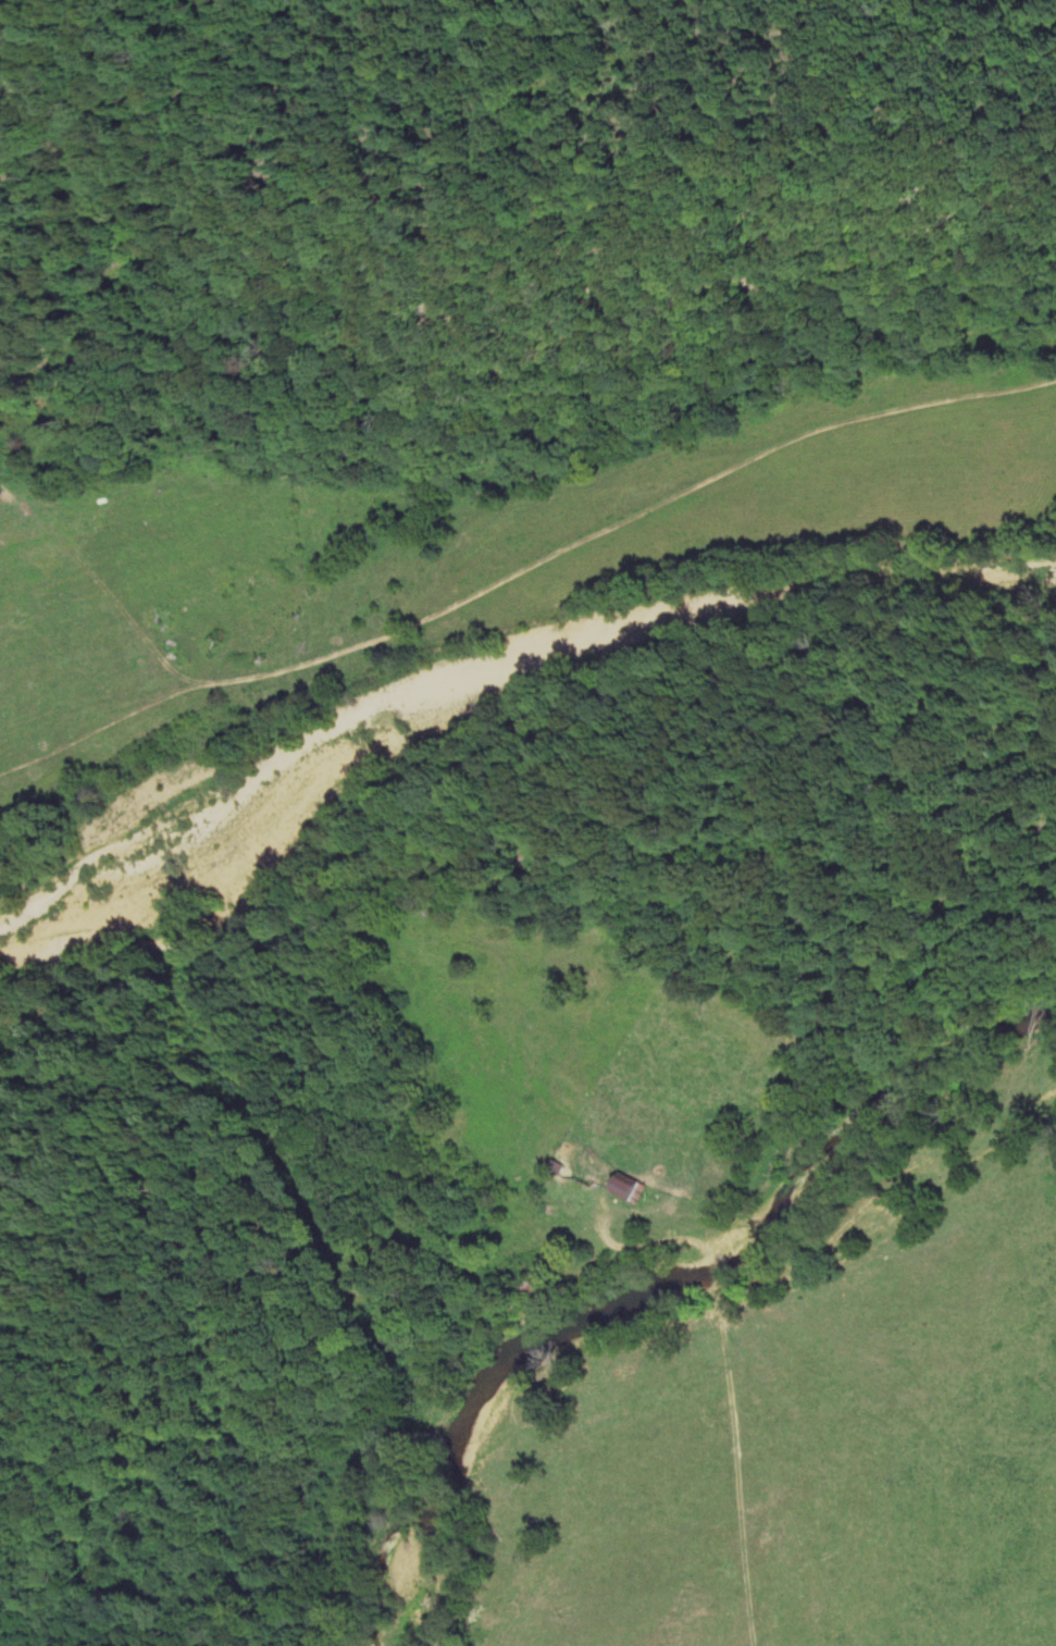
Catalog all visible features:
road: (732, 1376)

